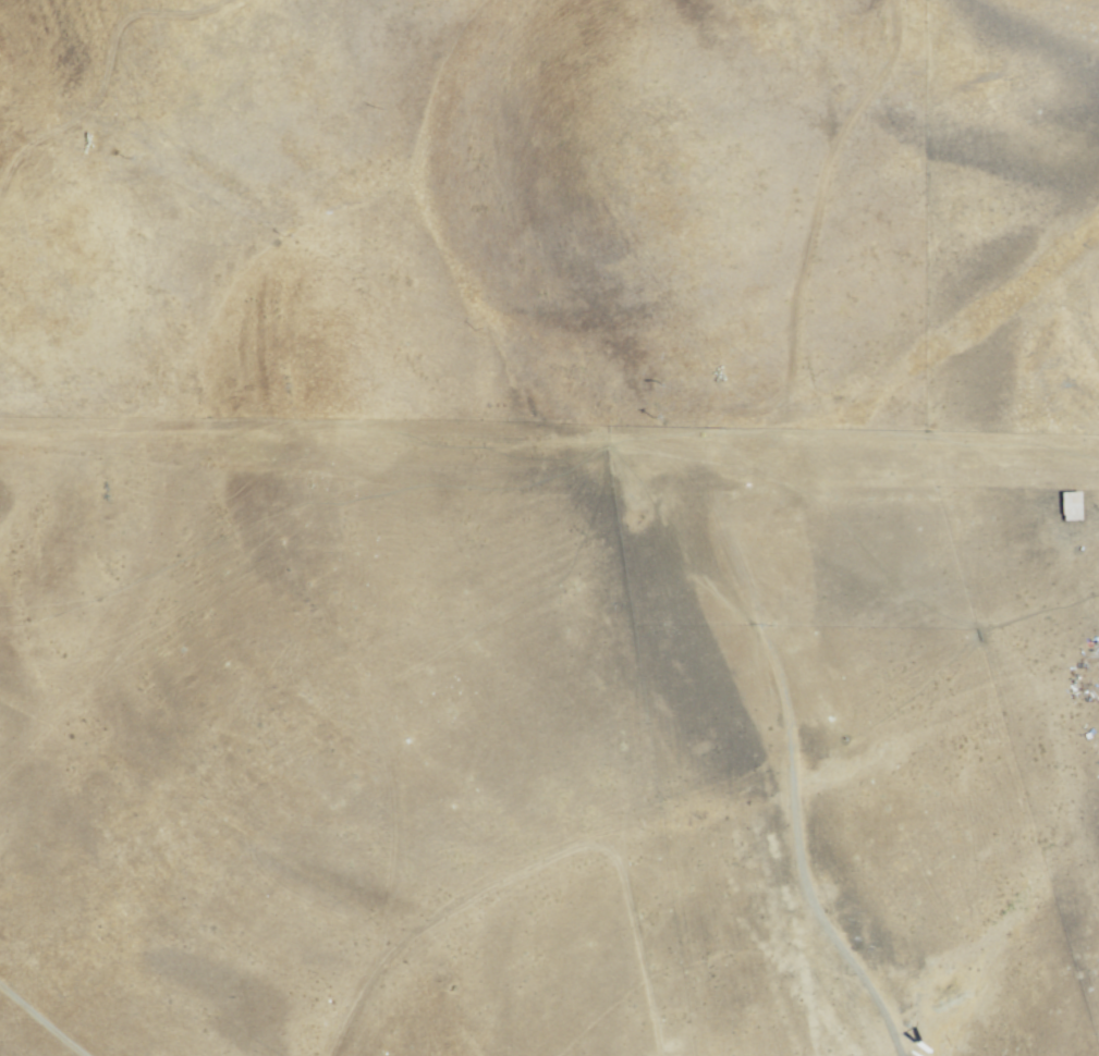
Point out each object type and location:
road: (807, 196)
road: (40, 1021)

